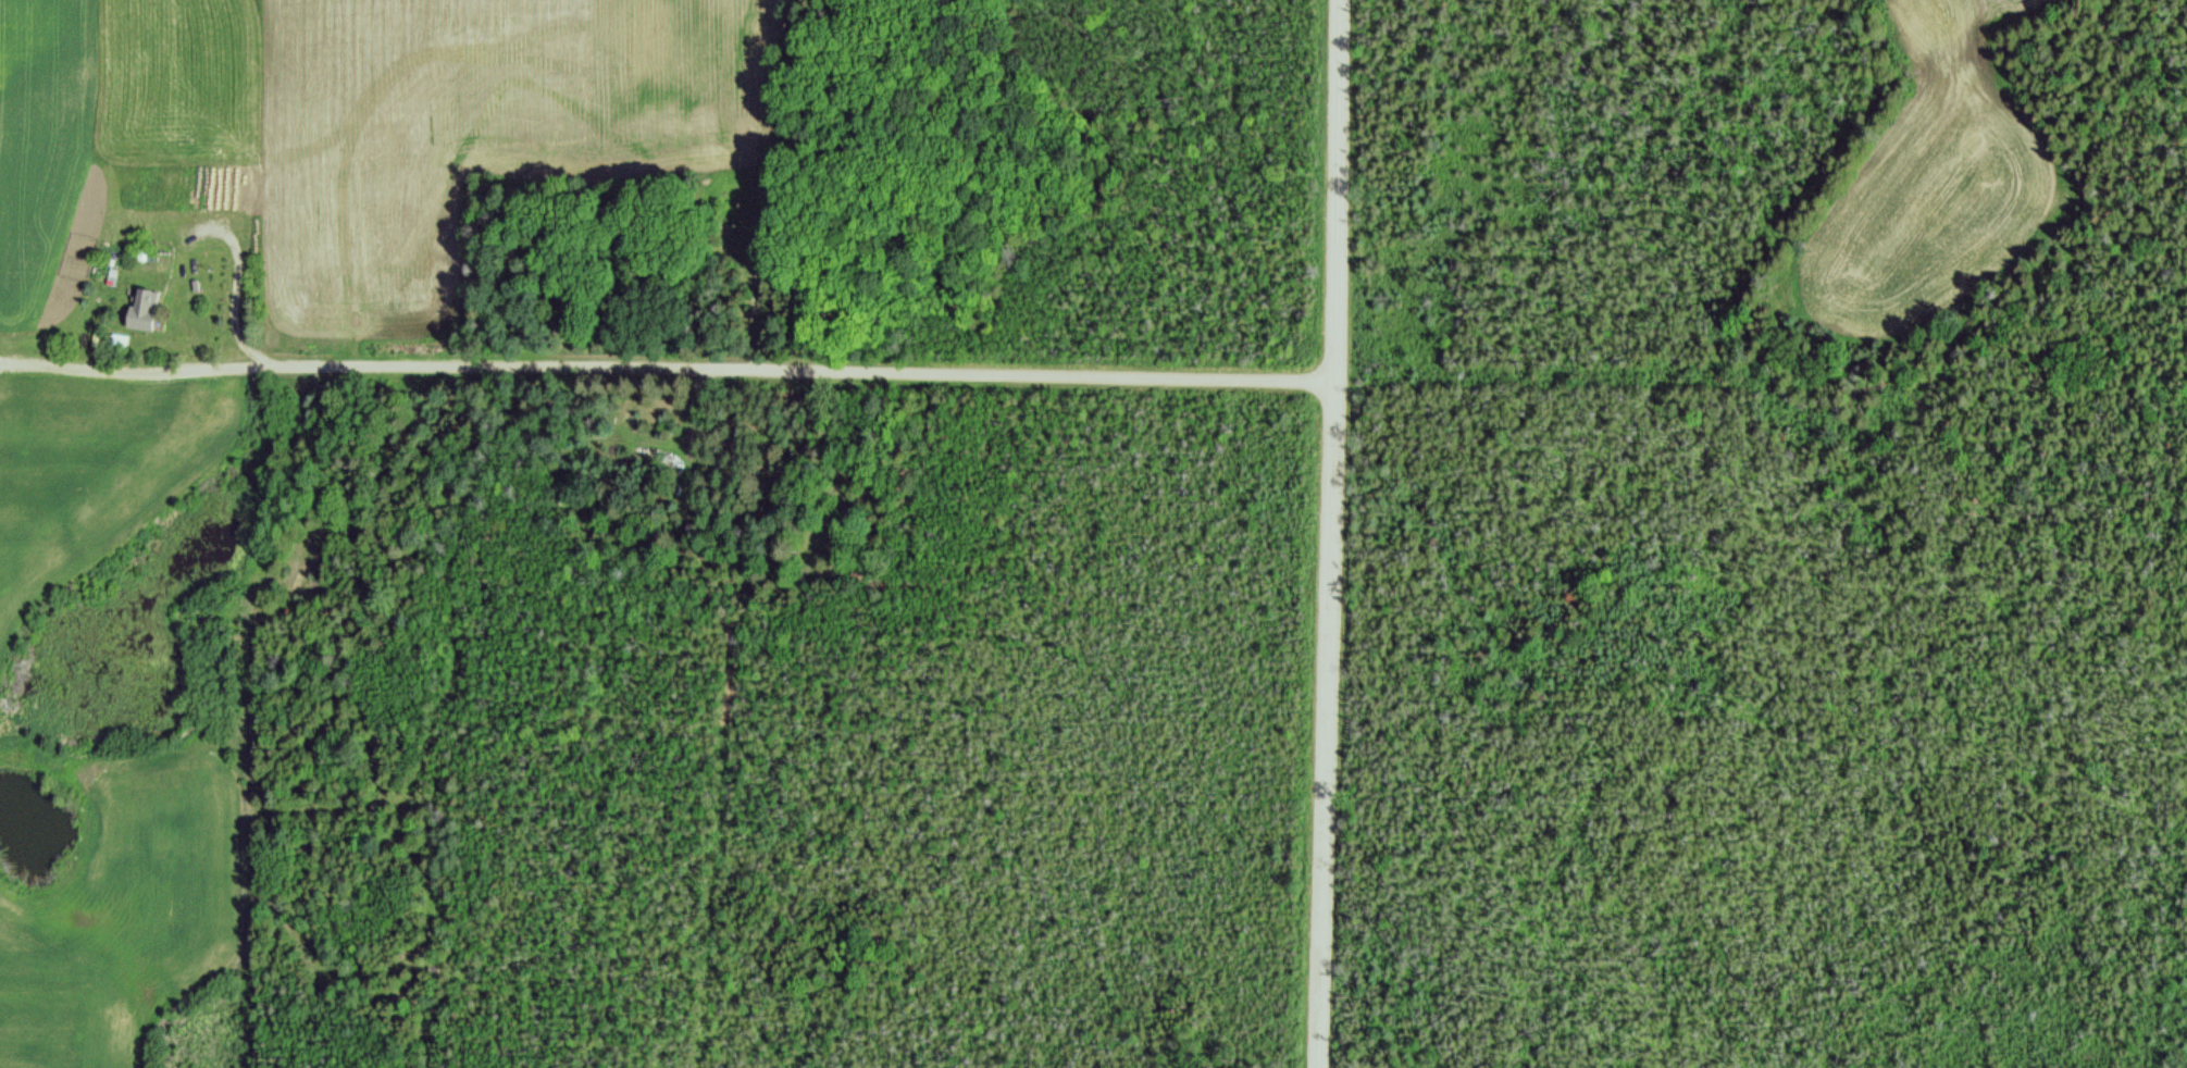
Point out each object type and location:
building: (166, 195)
building: (142, 306)
road: (669, 369)
road: (1334, 534)

